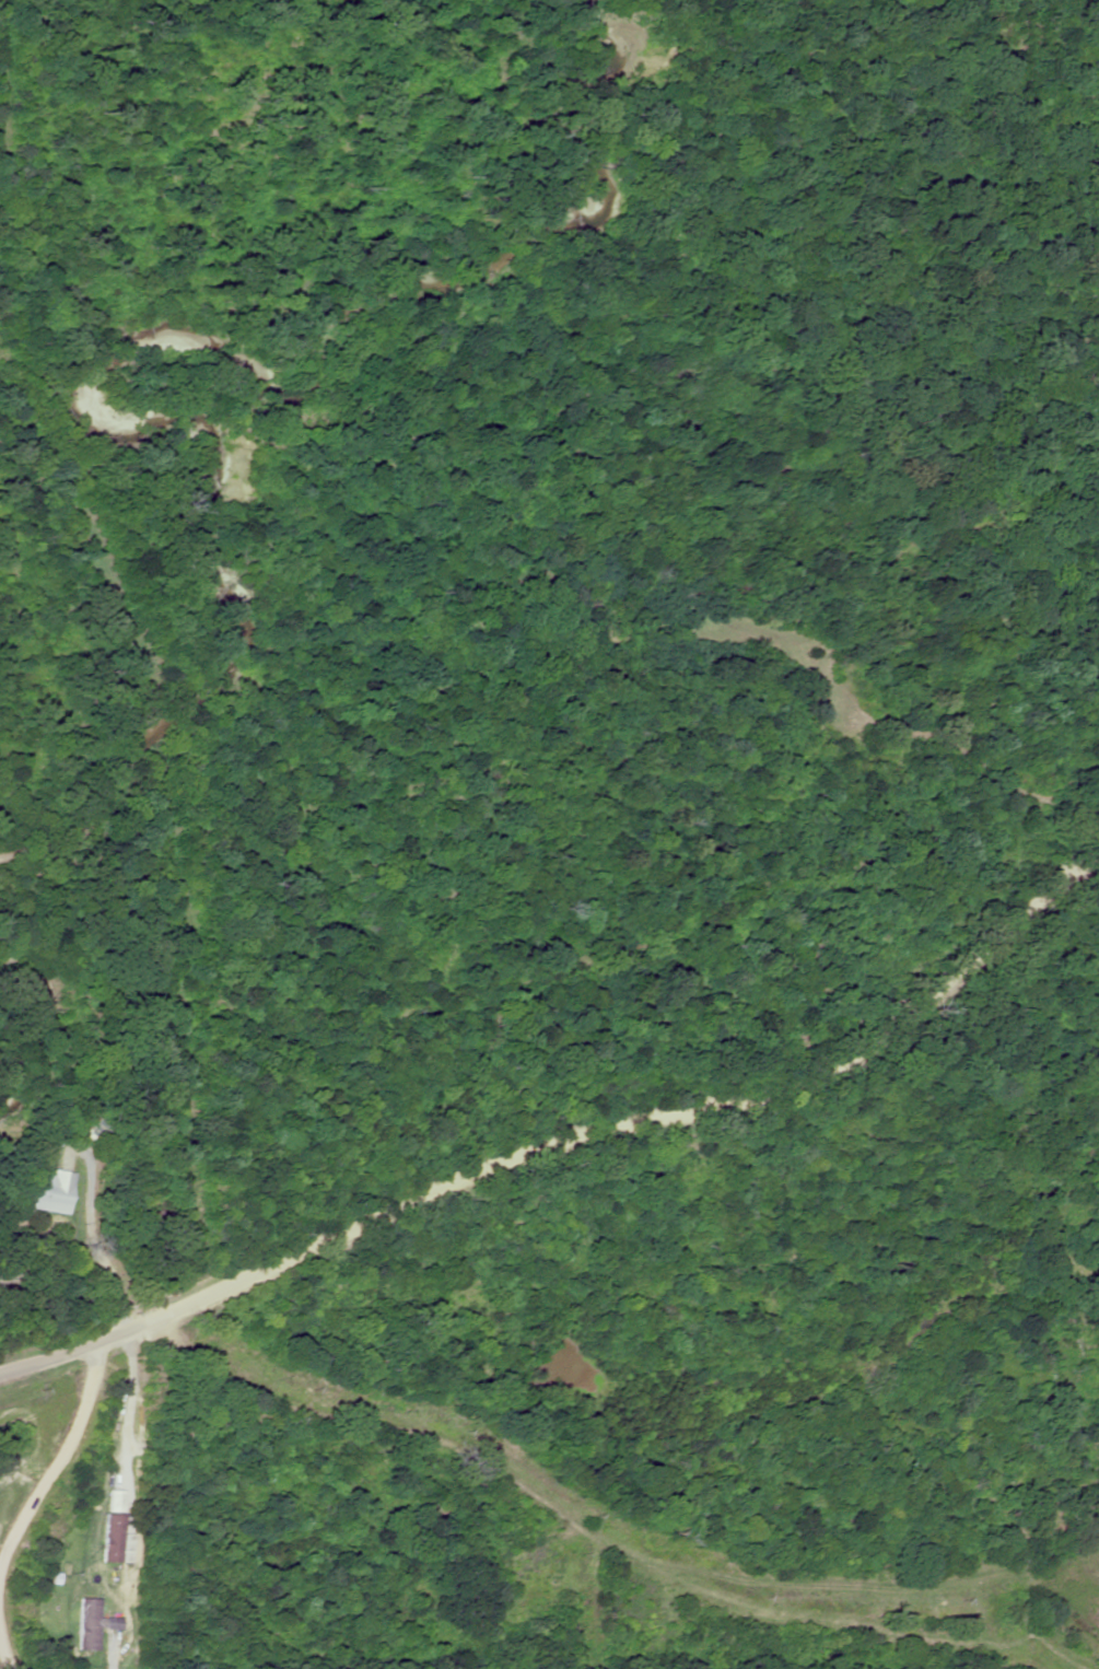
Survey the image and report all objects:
road: (643, 1101)
building: (47, 1192)
road: (71, 1345)
road: (341, 1421)
road: (45, 1506)
building: (108, 1539)
building: (89, 1624)

